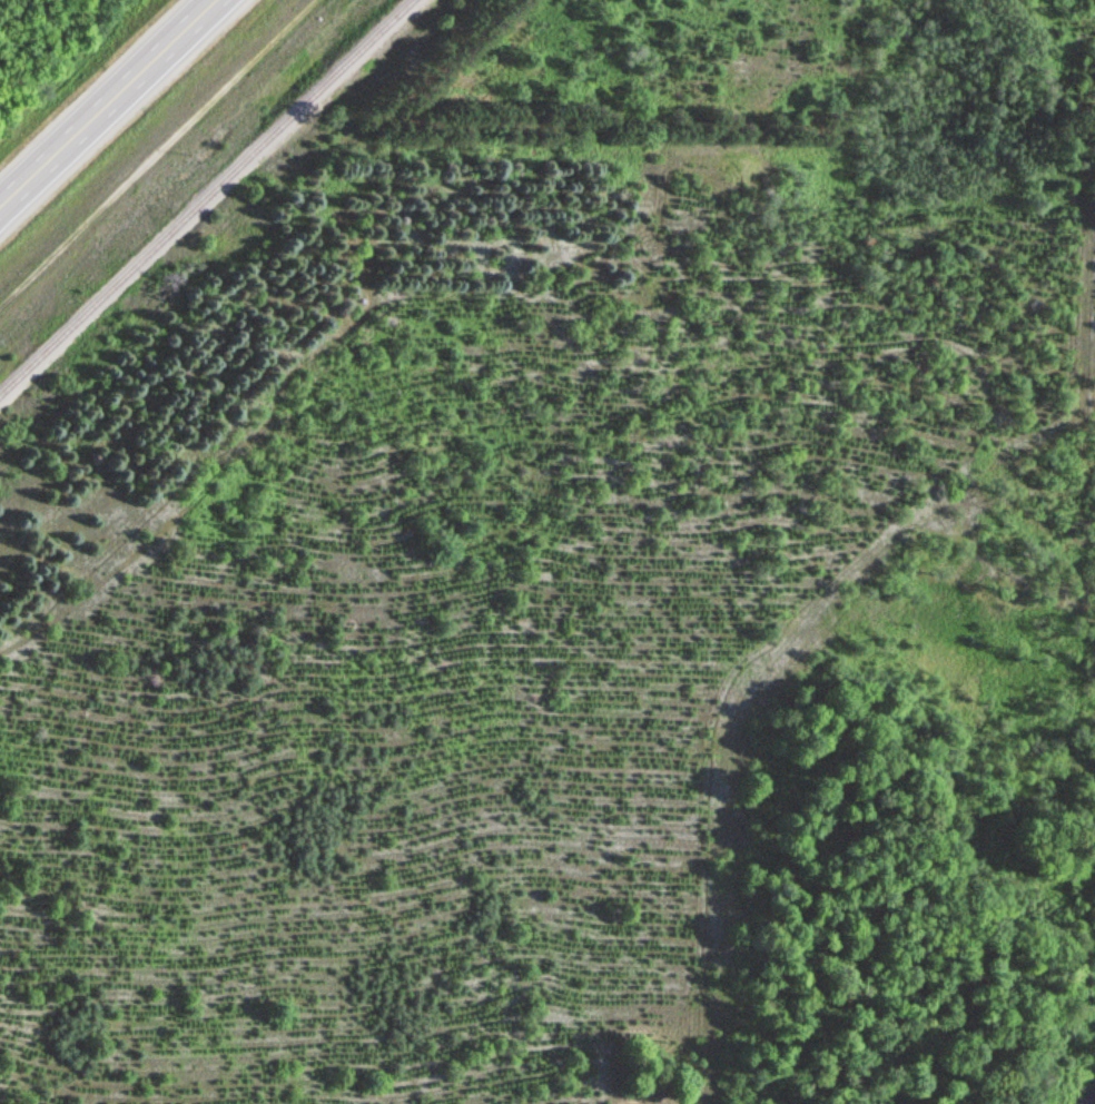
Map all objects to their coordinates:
road: (105, 101)
road: (161, 155)
railway: (207, 201)

